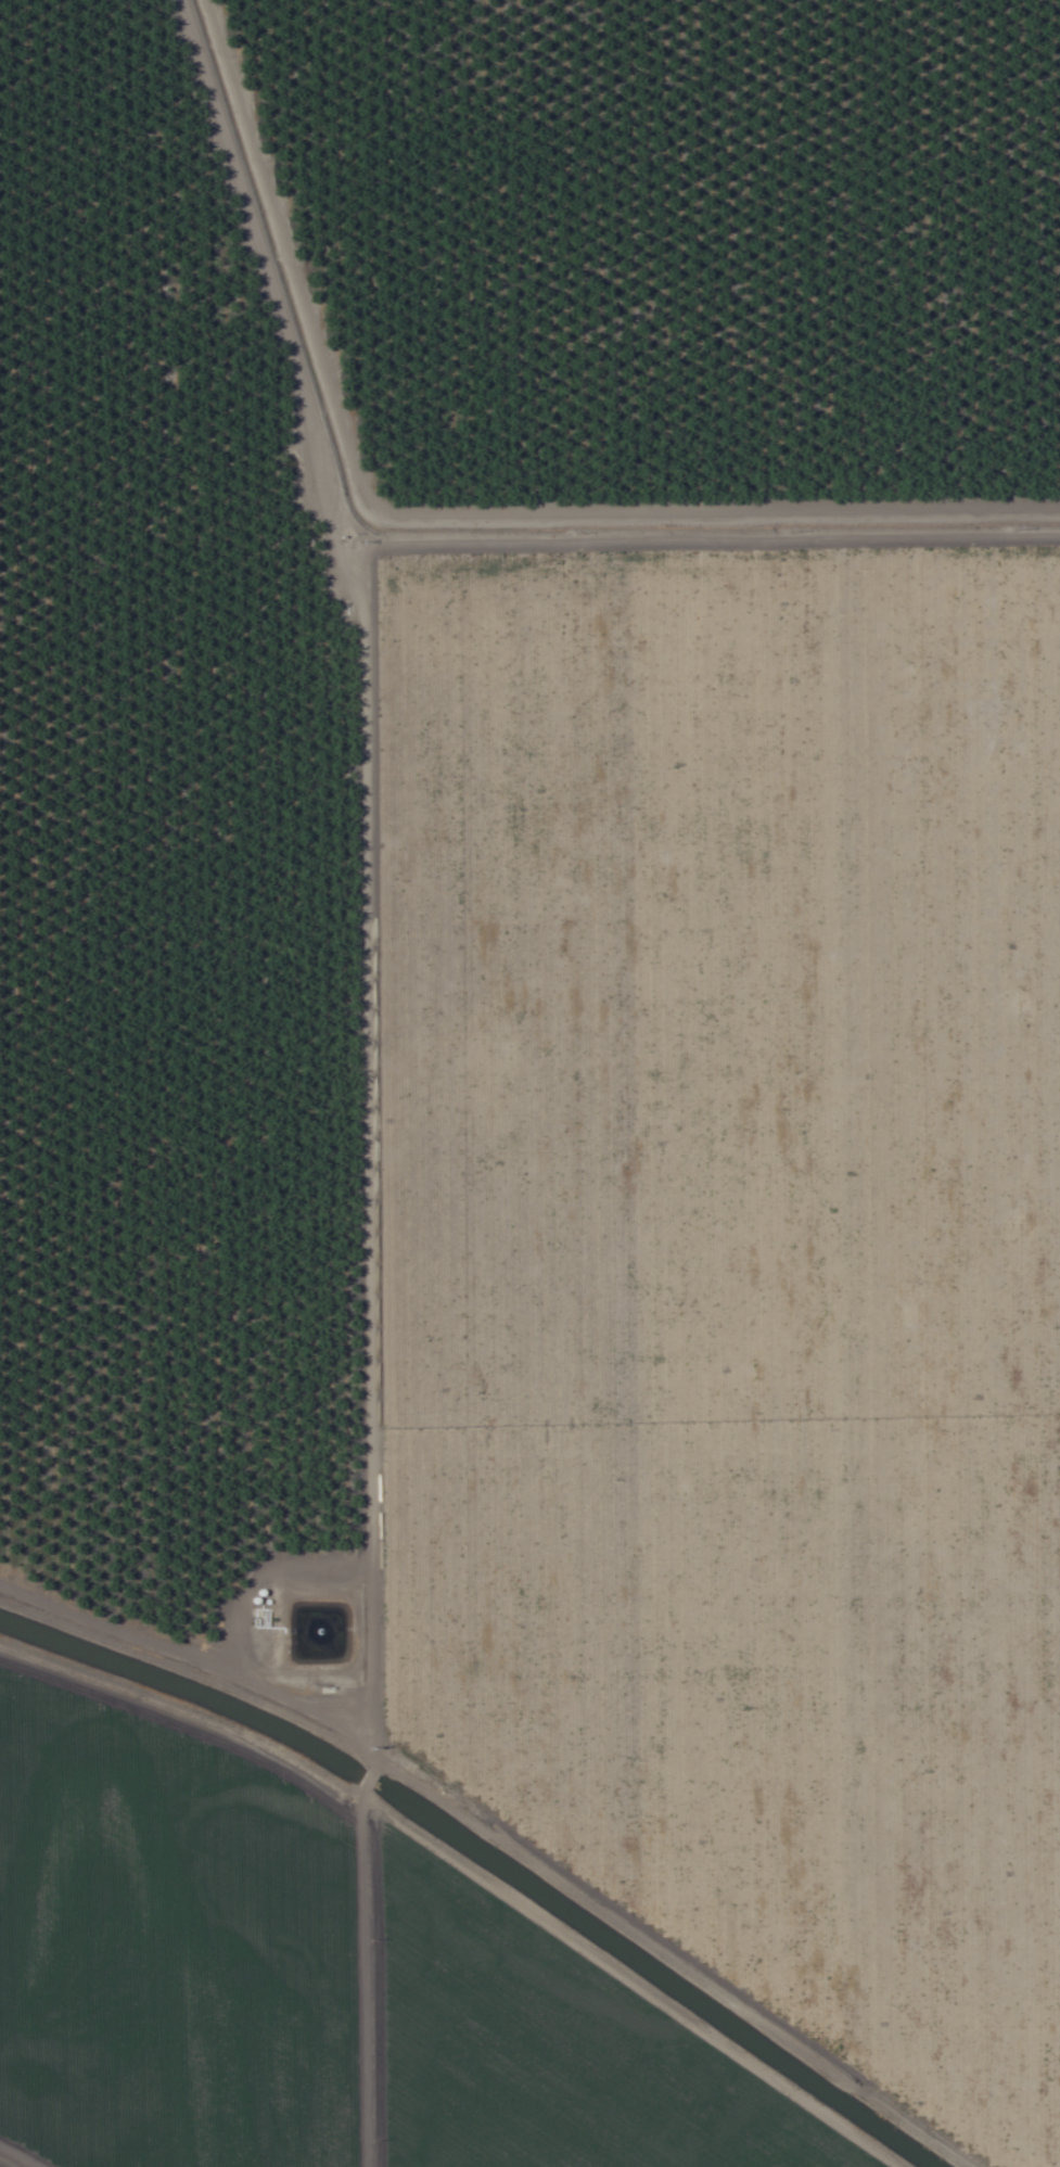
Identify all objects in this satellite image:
crop: (529, 1083)

